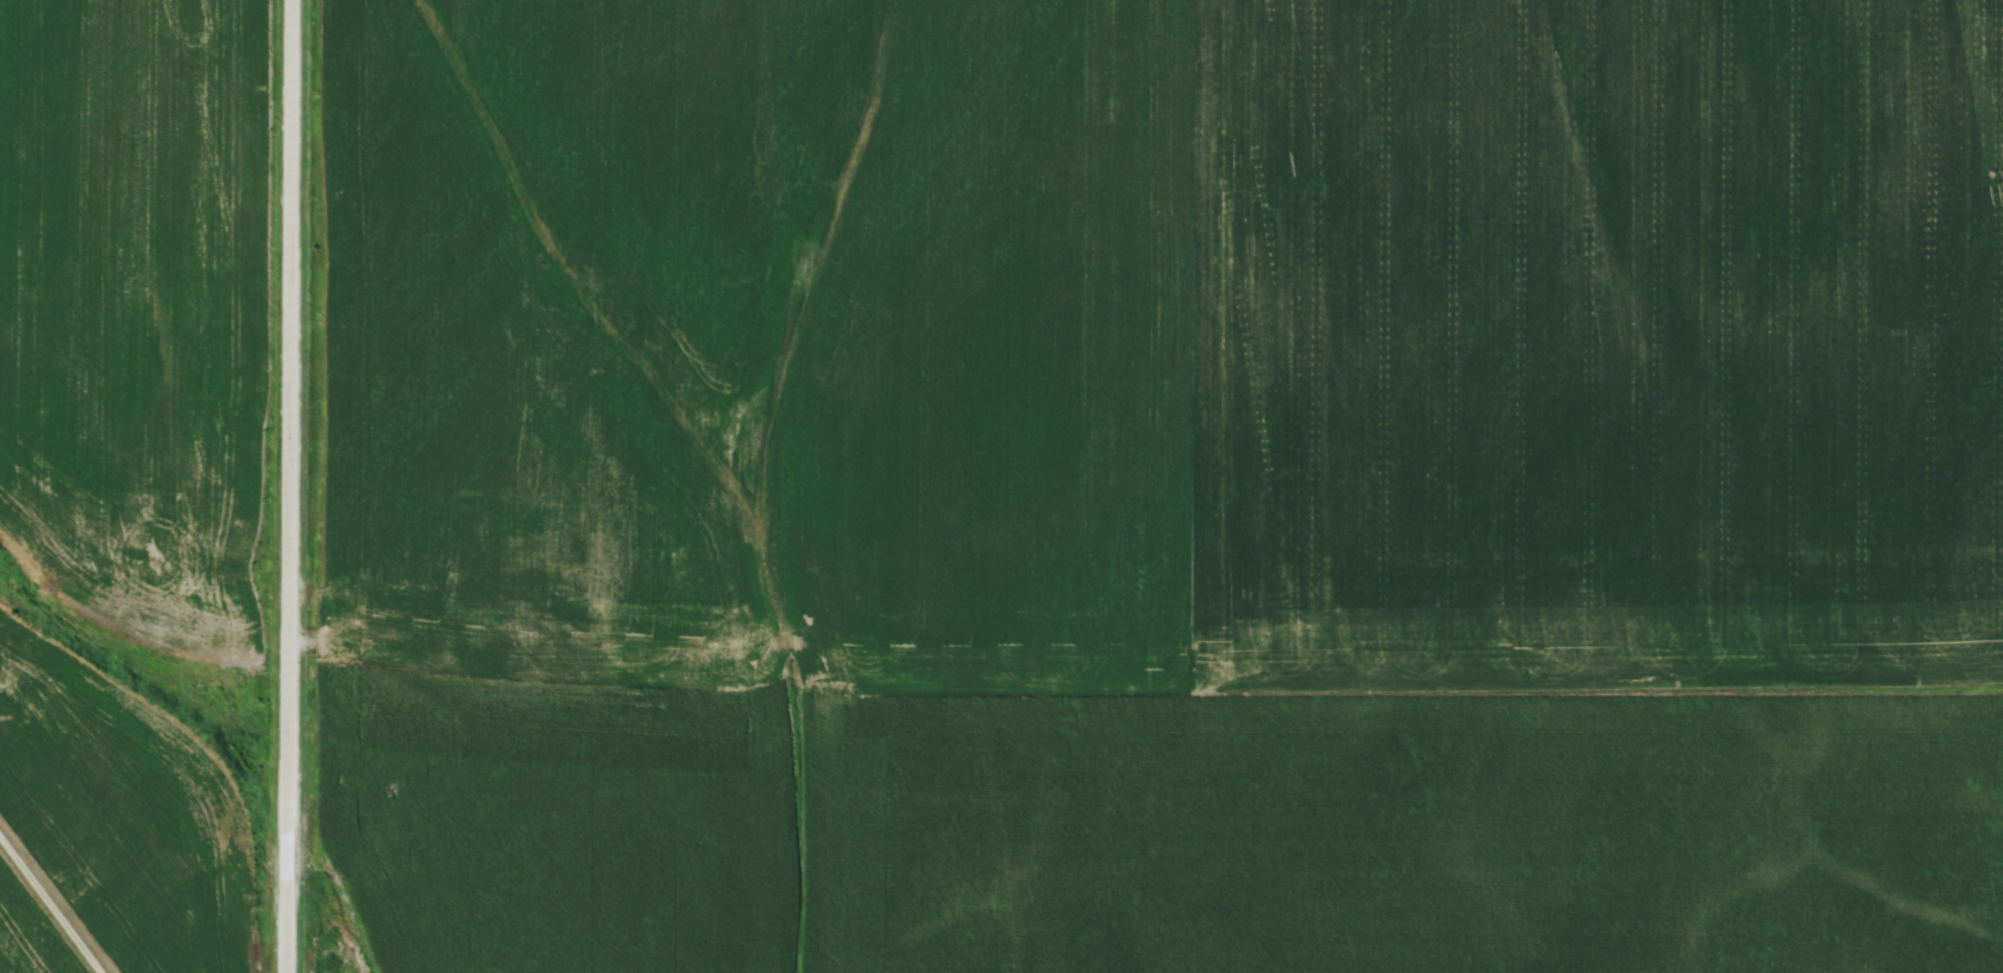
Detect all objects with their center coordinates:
crop: (768, 322)
road: (289, 486)
crop: (1597, 836)
road: (49, 907)

